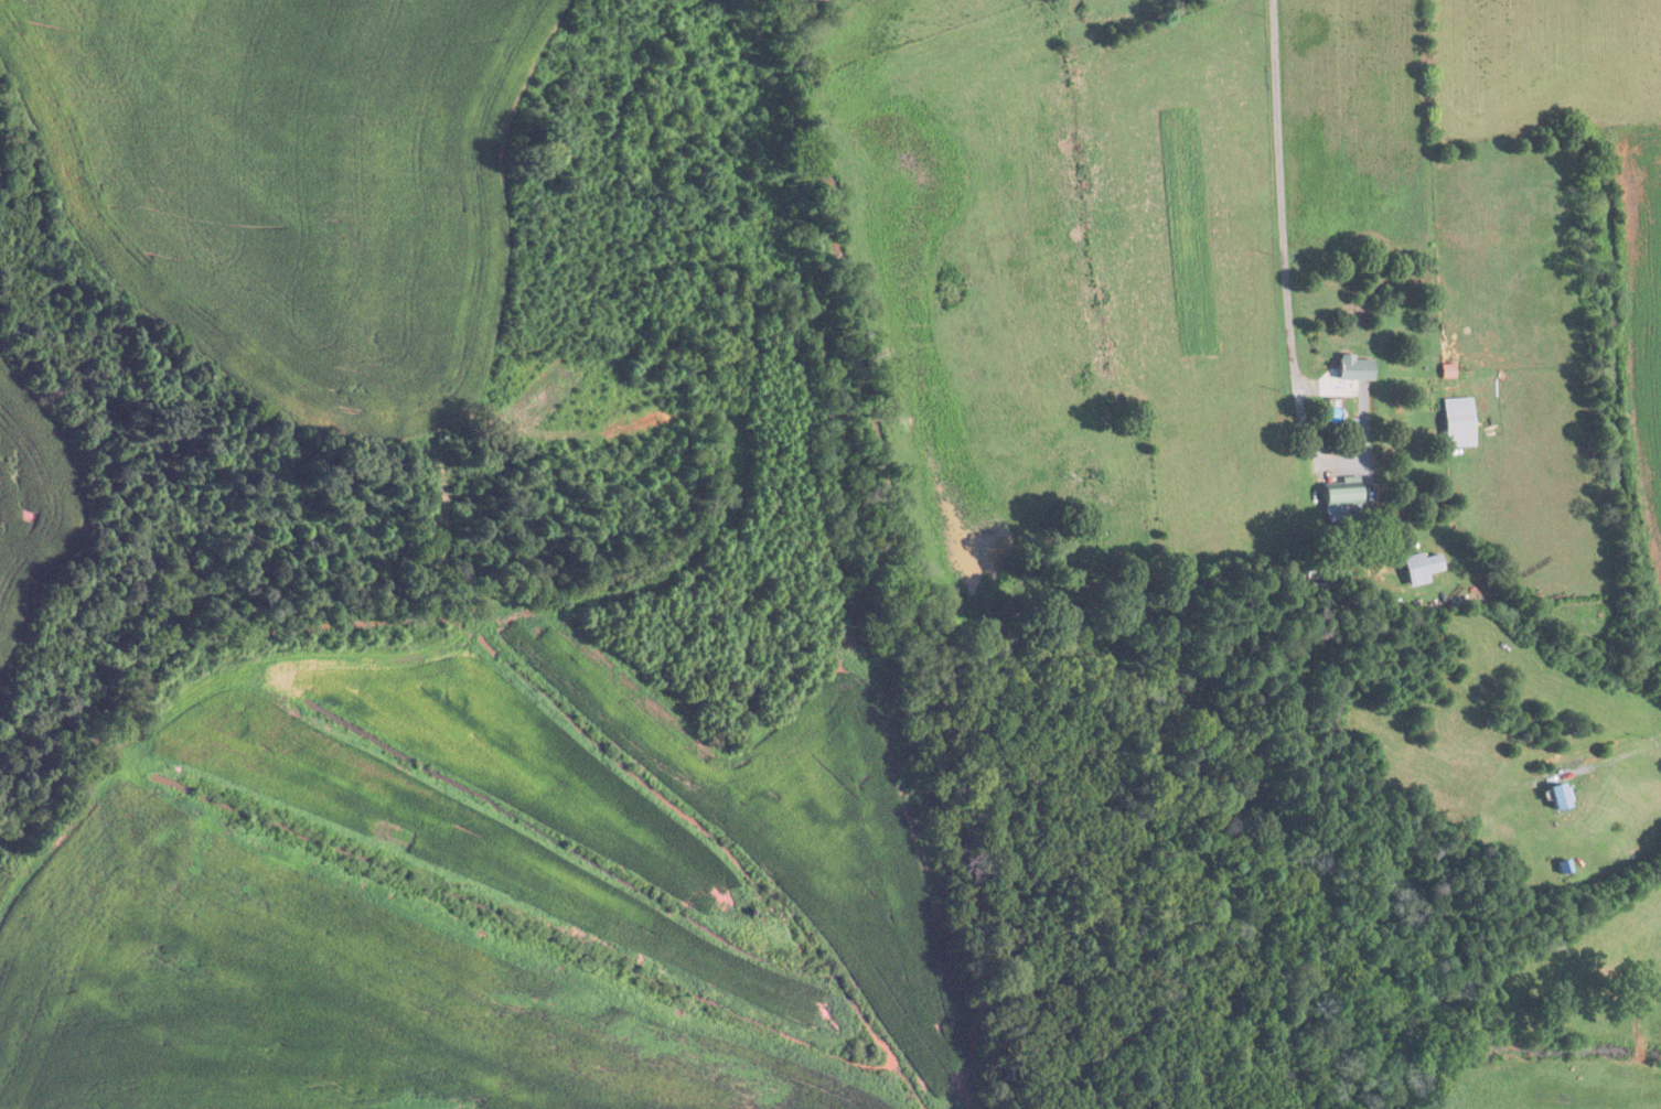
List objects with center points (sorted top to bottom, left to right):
road: (1278, 227)
building: (1355, 367)
building: (1342, 499)
building: (1422, 567)
building: (1320, 586)
road: (1615, 755)
building: (1561, 797)

